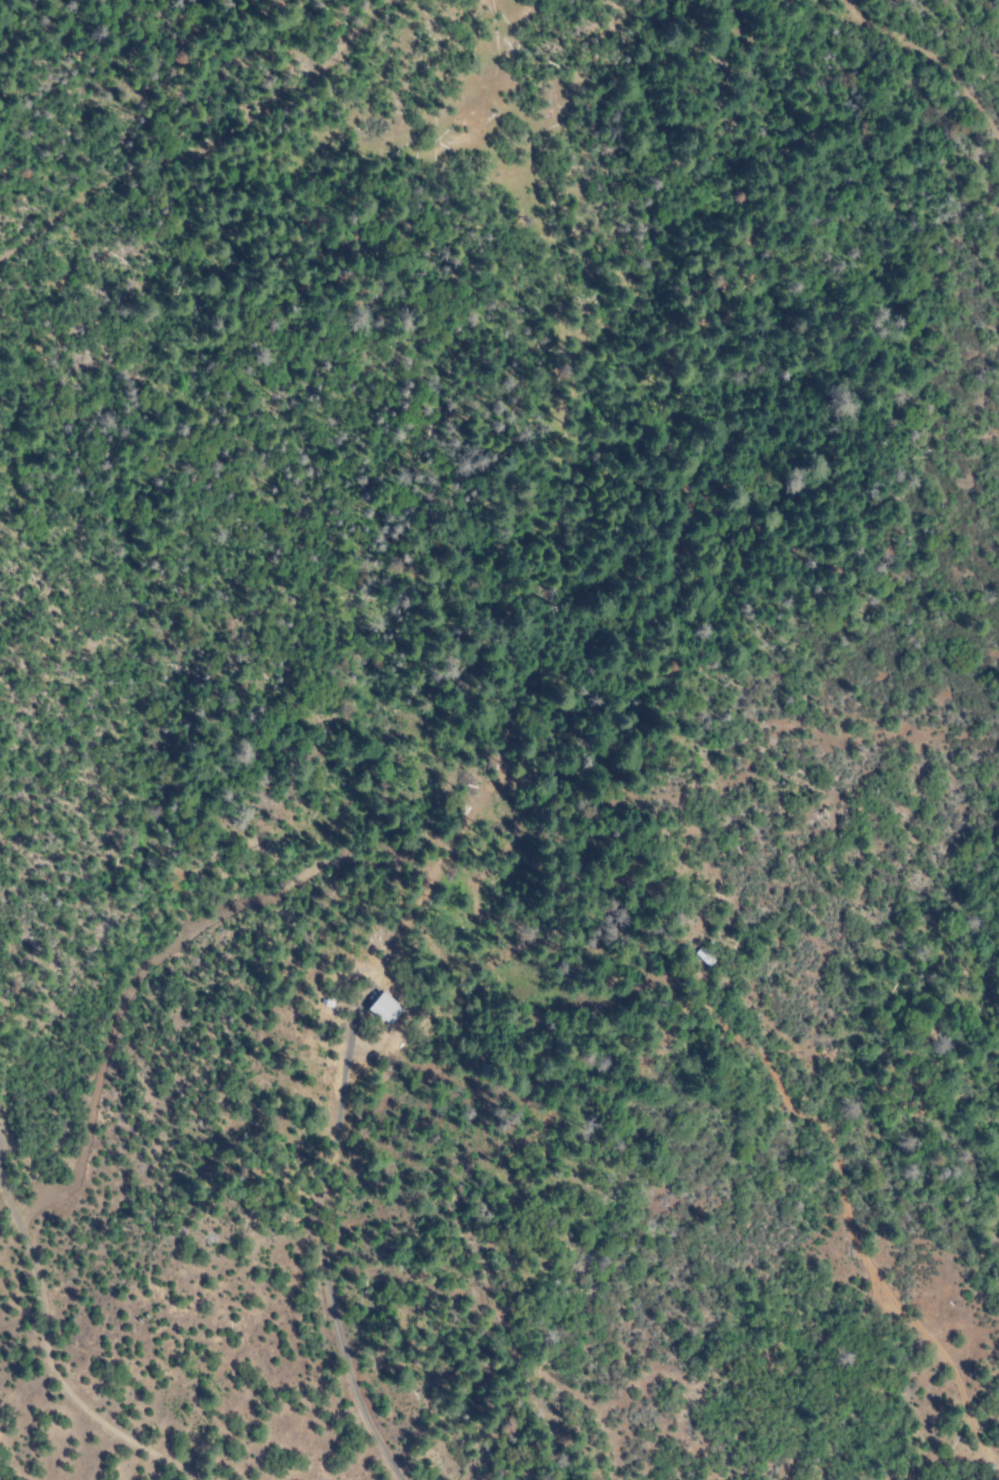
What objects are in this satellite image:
building: (385, 1009)

